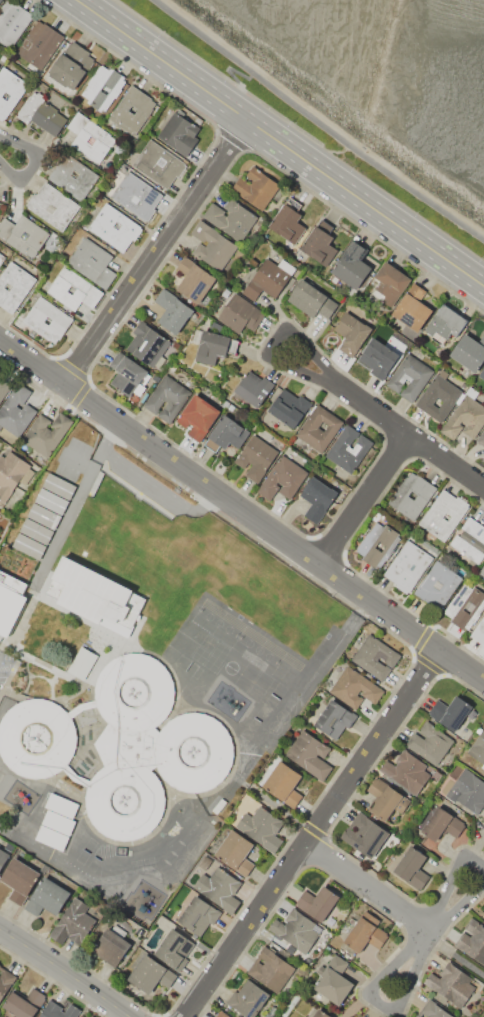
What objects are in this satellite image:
building: (0, 0)
building: (12, 23)
building: (39, 44)
building: (70, 64)
road: (217, 72)
building: (102, 87)
building: (9, 90)
building: (131, 109)
building: (40, 113)
building: (178, 134)
building: (89, 138)
road: (231, 140)
road: (280, 142)
road: (35, 160)
road: (43, 160)
building: (158, 164)
building: (72, 176)
road: (184, 183)
building: (255, 187)
building: (137, 195)
building: (52, 206)
building: (230, 218)
building: (287, 222)
building: (114, 228)
building: (23, 235)
building: (212, 246)
building: (319, 246)
road: (158, 254)
building: (1, 258)
building: (92, 262)
building: (351, 265)
building: (193, 279)
building: (266, 280)
building: (390, 283)
building: (13, 286)
building: (72, 289)
building: (311, 299)
building: (412, 308)
building: (173, 311)
building: (239, 314)
building: (47, 319)
building: (445, 324)
building: (351, 334)
road: (275, 342)
building: (146, 344)
building: (211, 346)
building: (469, 352)
building: (378, 358)
building: (125, 373)
building: (482, 373)
building: (409, 376)
road: (84, 377)
building: (253, 387)
building: (4, 389)
building: (438, 394)
building: (167, 398)
building: (16, 410)
building: (289, 410)
building: (197, 417)
building: (464, 419)
building: (318, 428)
building: (46, 434)
road: (108, 434)
building: (226, 434)
road: (406, 436)
building: (481, 438)
road: (397, 447)
building: (348, 449)
road: (99, 453)
building: (255, 458)
building: (483, 459)
road: (200, 463)
building: (12, 473)
building: (281, 478)
road: (479, 485)
road: (157, 486)
building: (411, 495)
road: (78, 497)
building: (317, 498)
road: (362, 498)
road: (244, 508)
building: (44, 514)
building: (443, 514)
road: (347, 541)
building: (469, 542)
building: (375, 543)
road: (328, 546)
building: (408, 566)
building: (481, 571)
building: (437, 585)
building: (95, 596)
building: (10, 601)
building: (465, 607)
building: (479, 631)
road: (414, 653)
building: (375, 656)
building: (81, 662)
building: (355, 688)
road: (381, 707)
building: (451, 712)
building: (334, 719)
building: (36, 738)
building: (429, 743)
building: (478, 746)
building: (147, 747)
road: (372, 748)
building: (309, 754)
building: (406, 772)
building: (283, 784)
building: (467, 791)
building: (386, 799)
building: (57, 820)
road: (333, 821)
building: (442, 824)
building: (260, 827)
road: (315, 830)
building: (364, 835)
building: (235, 852)
road: (319, 852)
building: (3, 856)
building: (412, 868)
road: (328, 874)
building: (19, 880)
building: (219, 889)
road: (372, 889)
building: (47, 897)
building: (317, 902)
road: (438, 911)
building: (198, 915)
road: (412, 917)
building: (483, 917)
building: (73, 923)
road: (246, 931)
building: (297, 931)
building: (365, 933)
building: (473, 941)
building: (110, 947)
road: (432, 947)
building: (174, 950)
road: (454, 957)
building: (270, 970)
building: (151, 974)
road: (65, 975)
building: (5, 981)
road: (53, 981)
building: (333, 981)
building: (451, 984)
building: (248, 999)
building: (23, 1002)
road: (381, 1005)
building: (59, 1009)
building: (433, 1010)
building: (320, 1014)
road: (160, 1015)
building: (221, 1015)
building: (267, 1015)
building: (417, 1016)

